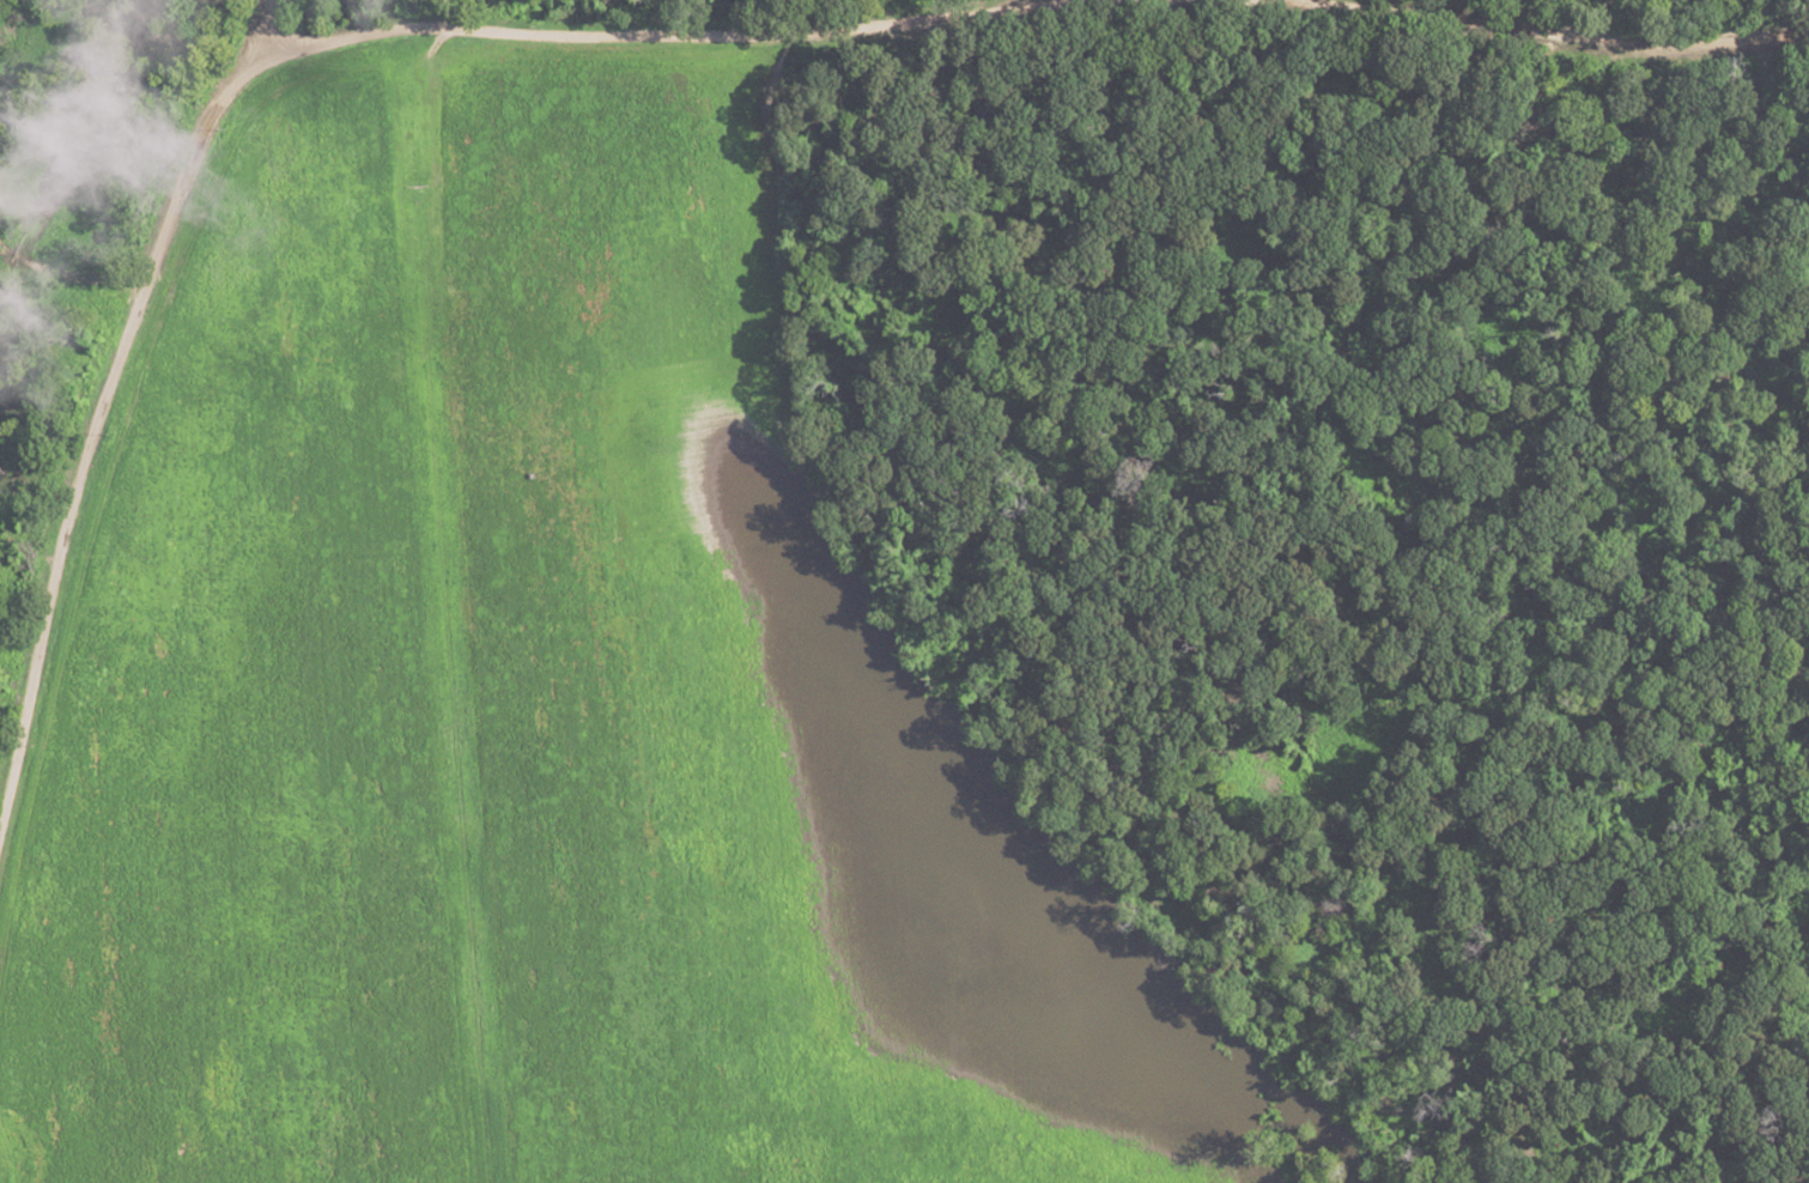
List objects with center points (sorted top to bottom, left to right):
road: (699, 31)
road: (1633, 37)
road: (107, 387)
crop: (540, 709)
crop: (1753, 1176)

